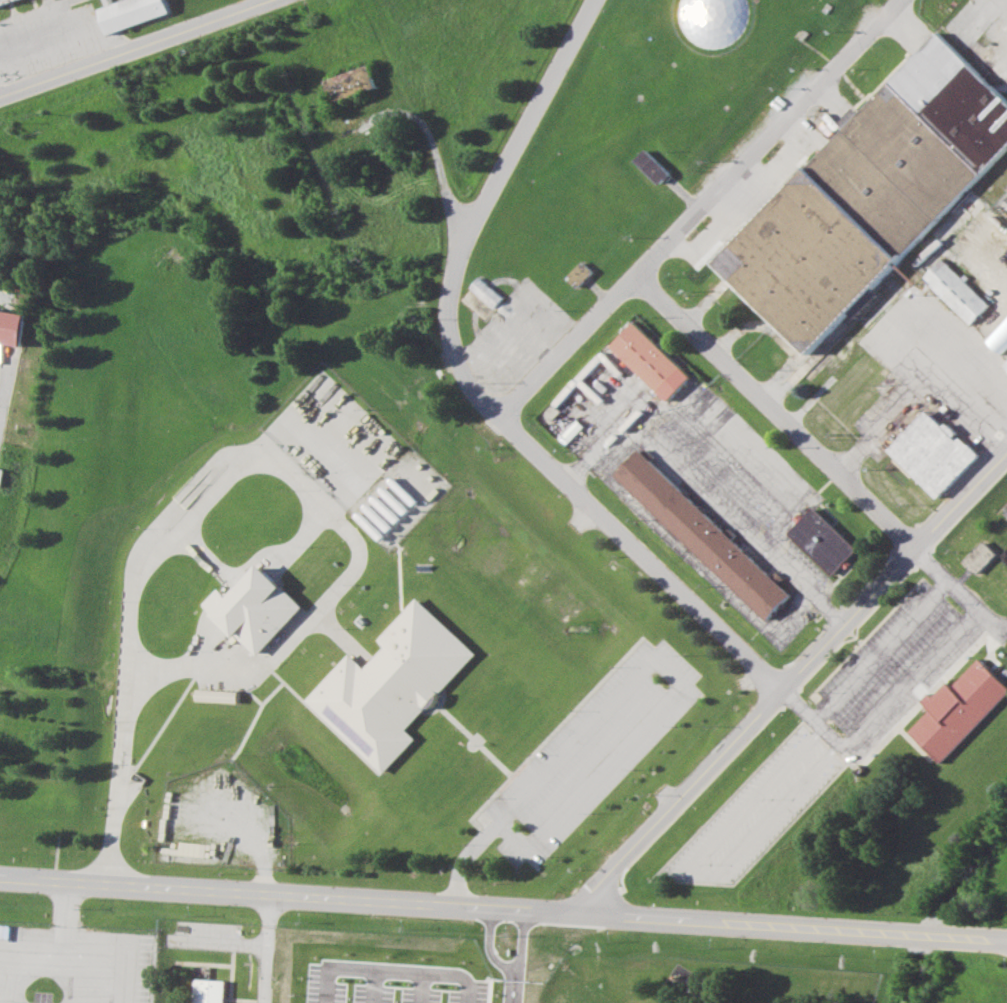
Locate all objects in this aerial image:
airport hangar: (6, 2)
building: (6, 2)
building: (136, 12)
road: (39, 14)
road: (136, 49)
building: (349, 82)
road: (435, 157)
building: (649, 165)
building: (869, 191)
road: (477, 207)
road: (695, 208)
building: (578, 273)
building: (955, 290)
building: (485, 291)
building: (860, 307)
building: (12, 326)
building: (999, 337)
building: (649, 360)
building: (1006, 364)
road: (1, 367)
parking lot: (922, 367)
road: (918, 392)
road: (775, 411)
building: (934, 452)
parking lot: (695, 478)
road: (707, 496)
building: (702, 533)
building: (821, 540)
road: (639, 555)
building: (980, 556)
road: (697, 559)
road: (348, 579)
road: (959, 592)
building: (253, 608)
road: (986, 645)
road: (880, 649)
parking lot: (896, 660)
road: (640, 667)
building: (389, 684)
road: (786, 684)
building: (213, 696)
building: (959, 708)
road: (883, 714)
road: (542, 734)
road: (828, 744)
parking lot: (580, 758)
parking lot: (755, 810)
road: (260, 860)
road: (681, 878)
road: (283, 894)
road: (64, 903)
road: (786, 927)
road: (63, 931)
road: (1002, 942)
parking lot: (336, 947)
road: (264, 948)
road: (490, 949)
road: (521, 956)
road: (31, 963)
road: (95, 969)
building: (206, 991)
road: (127, 1001)

